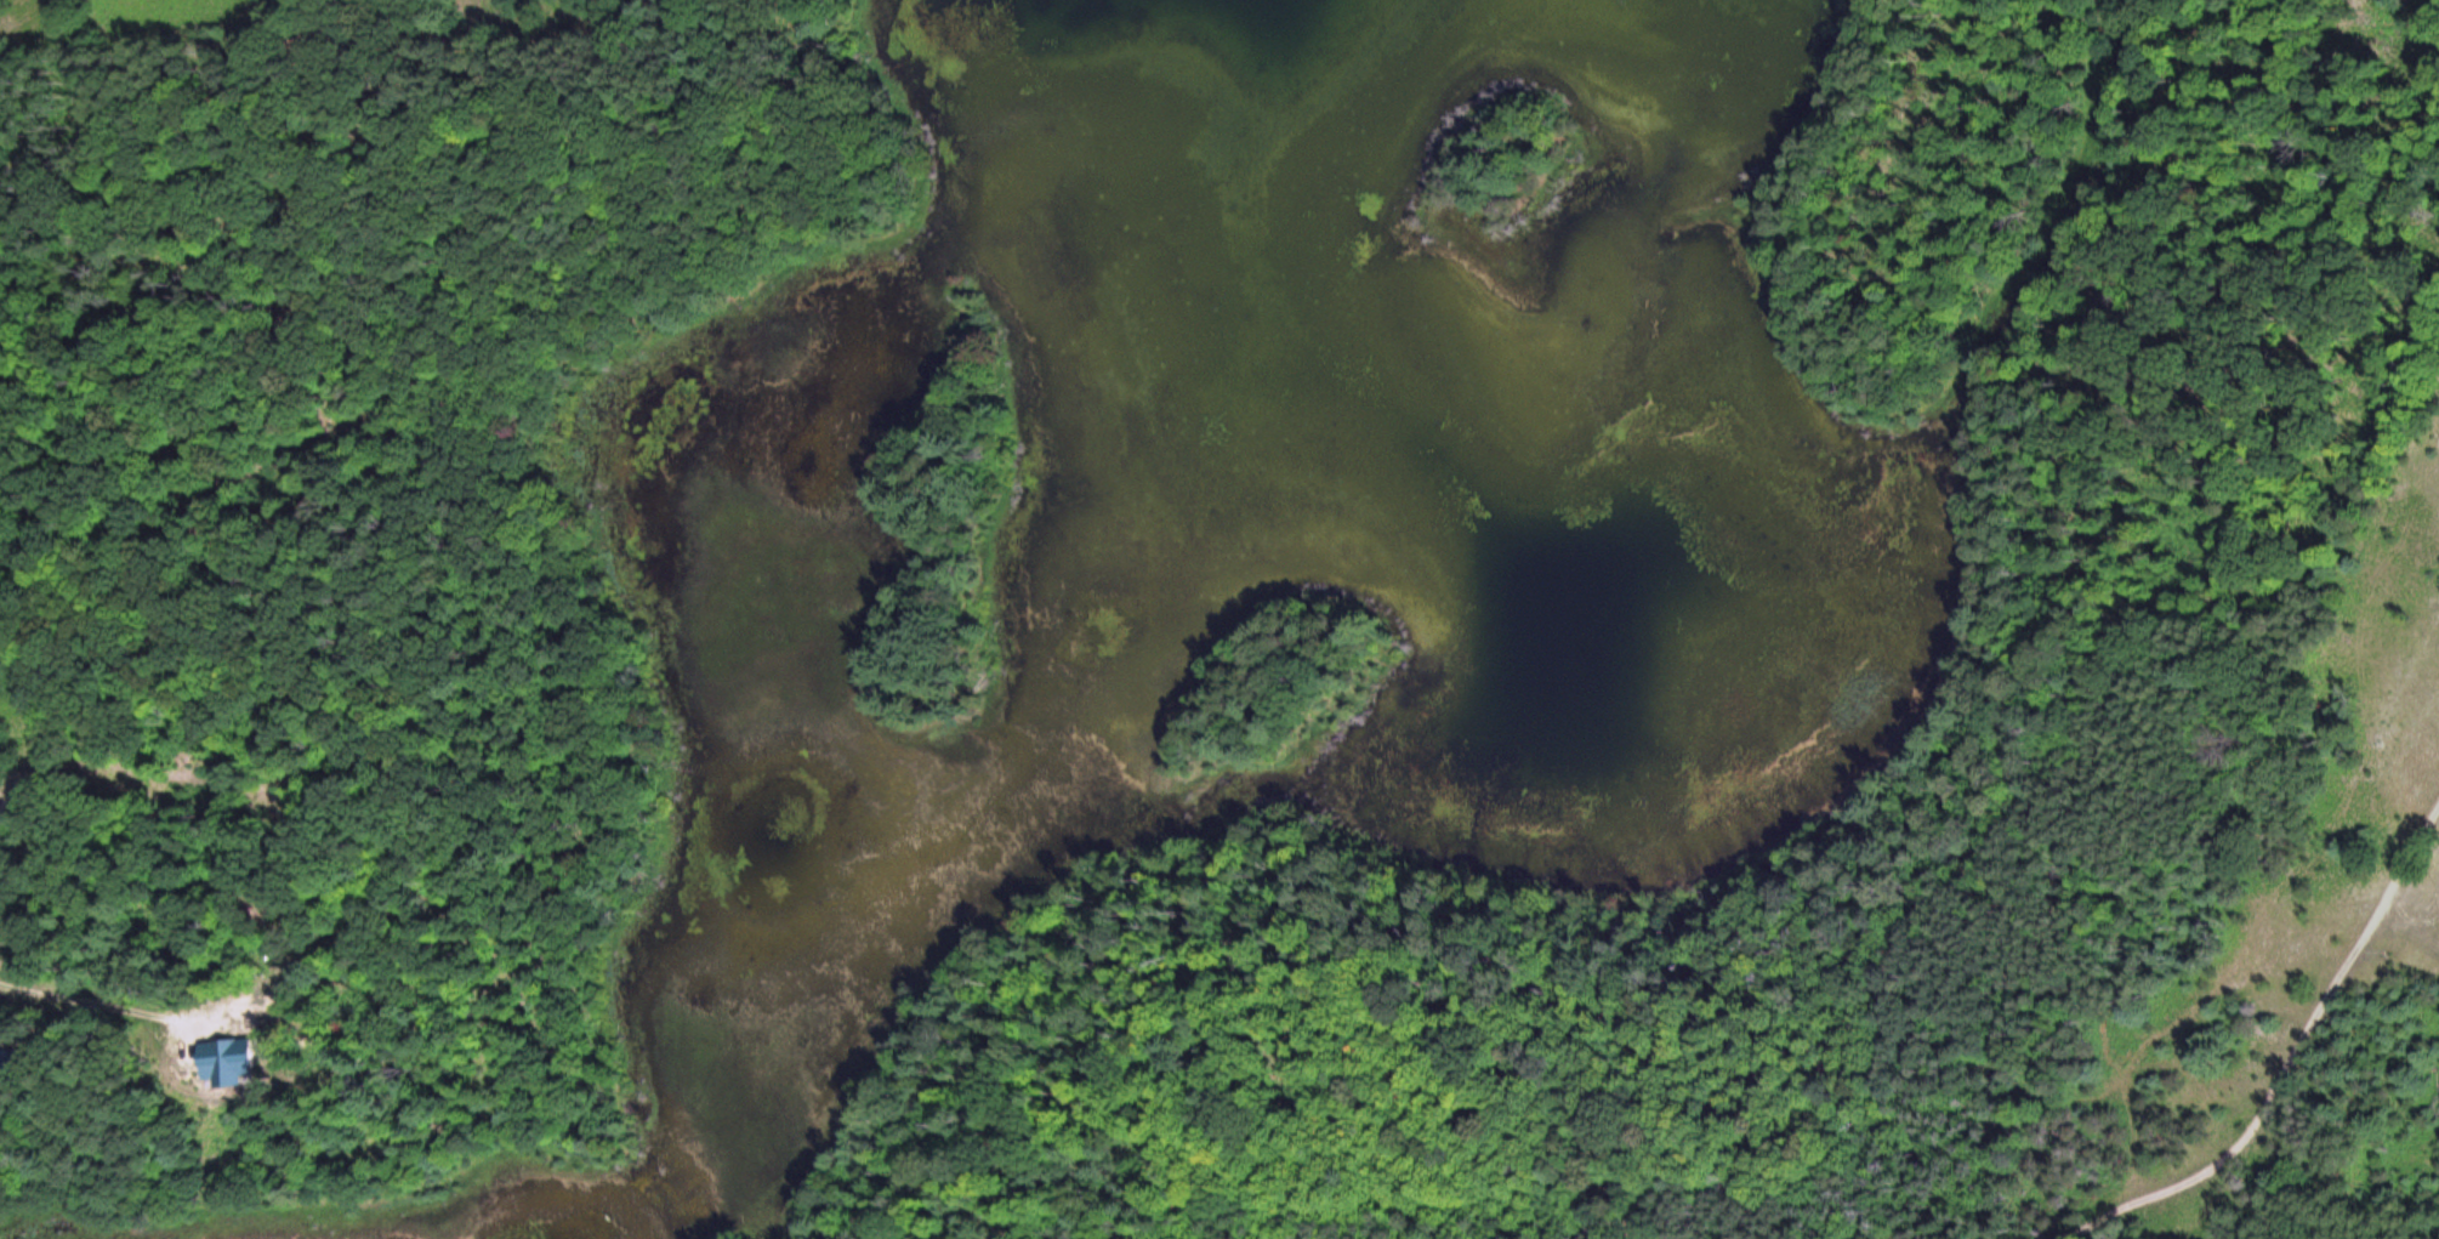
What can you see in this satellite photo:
road: (160, 778)
road: (2407, 926)
road: (102, 1014)
building: (22, 1067)
road: (2287, 1069)
building: (229, 1073)

